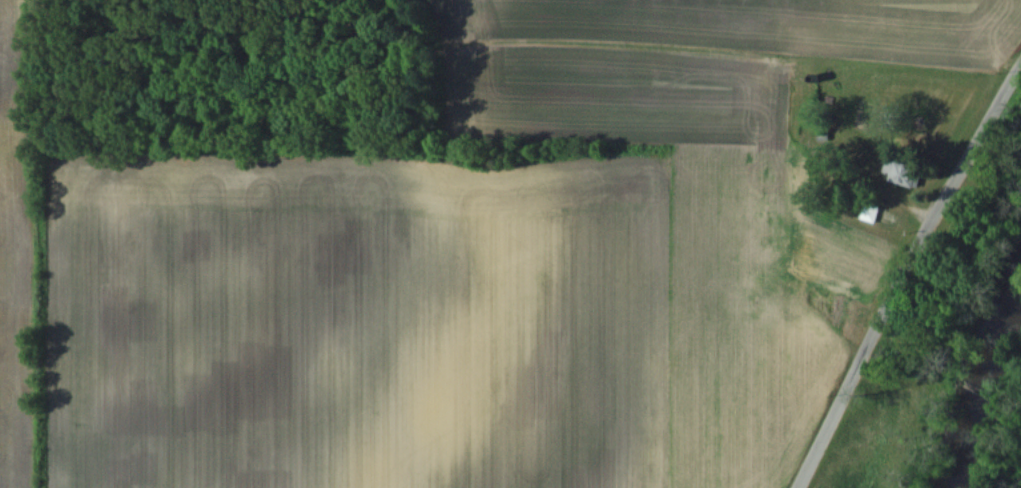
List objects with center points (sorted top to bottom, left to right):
building: (902, 172)
road: (899, 267)

